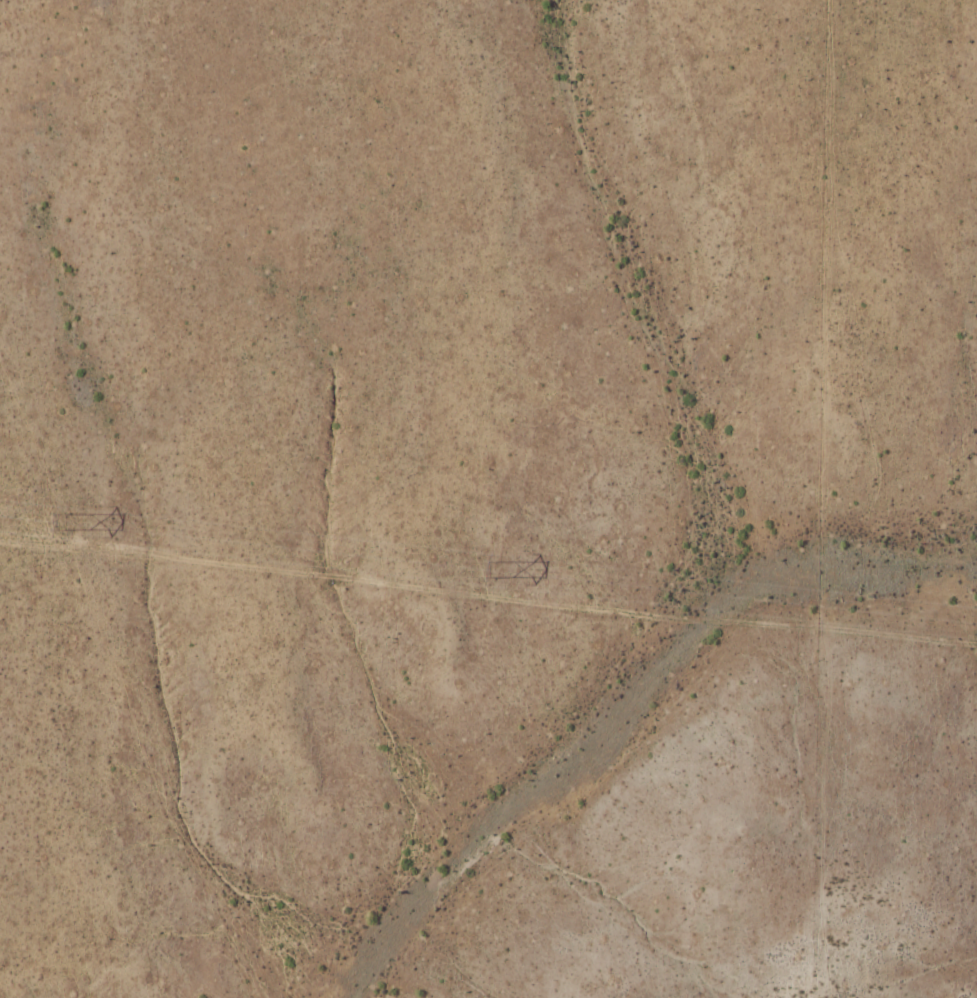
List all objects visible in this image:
power tower: (63, 521)
power tower: (494, 569)

